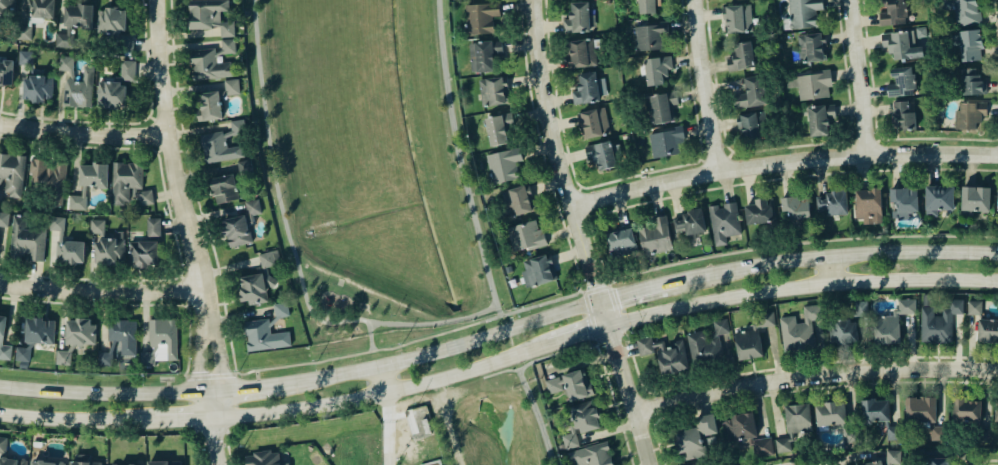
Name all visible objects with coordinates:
street lamp: (145, 2)
building: (7, 5)
building: (647, 6)
building: (42, 9)
building: (966, 11)
building: (894, 12)
building: (802, 14)
building: (210, 16)
street lamp: (444, 16)
building: (480, 16)
building: (579, 17)
building: (738, 18)
road: (994, 23)
building: (115, 27)
building: (24, 32)
street lamp: (249, 32)
street lamp: (526, 34)
building: (650, 37)
building: (64, 40)
road: (523, 44)
building: (903, 44)
building: (228, 45)
building: (971, 45)
building: (811, 47)
building: (581, 52)
building: (484, 53)
road: (505, 56)
building: (742, 56)
building: (25, 57)
building: (65, 63)
building: (210, 65)
building: (657, 69)
building: (6, 70)
road: (864, 76)
street lamp: (448, 77)
road: (527, 80)
building: (902, 82)
building: (972, 82)
building: (811, 84)
road: (710, 85)
building: (231, 86)
building: (116, 87)
road: (510, 87)
building: (586, 87)
building: (37, 88)
road: (569, 88)
building: (79, 89)
building: (493, 90)
building: (751, 93)
road: (560, 99)
building: (210, 105)
building: (661, 105)
building: (903, 114)
building: (972, 114)
road: (528, 115)
building: (820, 119)
street lamp: (174, 121)
building: (594, 121)
road: (133, 123)
road: (565, 123)
building: (752, 125)
road: (576, 126)
road: (181, 127)
road: (875, 128)
road: (82, 129)
building: (496, 129)
road: (157, 133)
street lamp: (540, 137)
road: (997, 138)
road: (877, 139)
building: (667, 141)
road: (848, 142)
building: (223, 143)
road: (863, 143)
road: (538, 145)
road: (167, 146)
road: (782, 147)
road: (540, 149)
building: (603, 153)
road: (730, 154)
road: (574, 156)
road: (457, 159)
road: (715, 159)
road: (585, 160)
road: (701, 160)
road: (784, 161)
building: (503, 165)
building: (245, 167)
building: (12, 173)
building: (49, 178)
road: (625, 178)
building: (89, 183)
building: (129, 183)
road: (551, 187)
building: (225, 188)
road: (579, 189)
street lamp: (472, 192)
road: (536, 196)
road: (675, 198)
road: (655, 199)
building: (939, 199)
building: (976, 199)
building: (514, 200)
building: (905, 201)
road: (582, 202)
building: (834, 202)
road: (278, 203)
building: (869, 205)
park: (384, 206)
street lamp: (272, 207)
road: (619, 208)
building: (797, 209)
building: (997, 209)
building: (760, 210)
road: (588, 216)
building: (4, 219)
building: (690, 221)
building: (724, 221)
building: (56, 223)
road: (171, 223)
building: (153, 225)
building: (241, 225)
road: (546, 230)
road: (564, 232)
road: (584, 234)
building: (526, 235)
building: (655, 235)
building: (27, 239)
building: (622, 239)
road: (594, 241)
street lamp: (881, 244)
building: (110, 249)
building: (70, 252)
road: (836, 252)
building: (144, 253)
road: (570, 253)
road: (556, 263)
road: (833, 266)
building: (538, 270)
road: (180, 275)
street lamp: (647, 277)
building: (260, 280)
street lamp: (581, 280)
street lamp: (323, 283)
road: (609, 283)
road: (803, 285)
road: (363, 287)
road: (640, 287)
road: (100, 289)
road: (184, 289)
road: (580, 290)
traffic signals: (604, 296)
road: (808, 297)
street lamp: (95, 299)
road: (127, 303)
road: (186, 304)
building: (974, 307)
building: (861, 308)
building: (281, 309)
road: (615, 309)
road: (223, 311)
street lamp: (627, 311)
street lamp: (393, 314)
road: (327, 316)
road: (590, 316)
building: (767, 318)
road: (436, 321)
building: (940, 321)
building: (892, 323)
traffic signals: (612, 324)
building: (721, 326)
building: (40, 330)
building: (988, 330)
building: (797, 331)
building: (842, 331)
road: (579, 333)
building: (164, 335)
building: (264, 336)
building: (76, 338)
building: (4, 340)
building: (119, 340)
road: (411, 341)
road: (507, 342)
building: (748, 343)
building: (703, 344)
building: (645, 345)
street lamp: (602, 346)
road: (443, 347)
road: (628, 350)
street lamp: (226, 353)
road: (774, 353)
building: (23, 354)
road: (219, 355)
road: (200, 356)
building: (672, 356)
building: (147, 358)
road: (539, 358)
road: (584, 362)
road: (728, 363)
road: (790, 366)
street lamp: (318, 369)
road: (752, 371)
road: (234, 372)
road: (608, 372)
road: (185, 374)
road: (816, 374)
road: (210, 375)
road: (712, 376)
street lamp: (59, 380)
street lamp: (145, 382)
building: (571, 383)
road: (680, 384)
road: (474, 386)
road: (253, 388)
road: (801, 389)
road: (382, 391)
road: (112, 393)
road: (446, 393)
road: (617, 402)
road: (615, 403)
road: (440, 405)
building: (875, 410)
building: (967, 410)
building: (996, 411)
building: (831, 413)
building: (924, 413)
building: (586, 415)
road: (534, 416)
building: (798, 417)
road: (75, 419)
road: (182, 421)
street lamp: (543, 422)
building: (425, 425)
building: (740, 426)
road: (387, 427)
road: (610, 429)
building: (893, 433)
building: (694, 437)
building: (570, 440)
street lamp: (203, 443)
road: (215, 443)
building: (3, 444)
building: (784, 446)
road: (662, 447)
building: (762, 447)
road: (632, 453)
building: (591, 455)
road: (228, 456)
building: (264, 458)
building: (888, 458)
building: (85, 460)
road: (826, 460)
building: (12, 461)
building: (938, 461)
road: (985, 461)
building: (158, 462)
building: (432, 462)
wastewater plant: (432, 462)
building: (47, 463)
building: (700, 463)
building: (120, 464)
building: (587, 464)
road: (652, 464)
street lamp: (658, 464)

